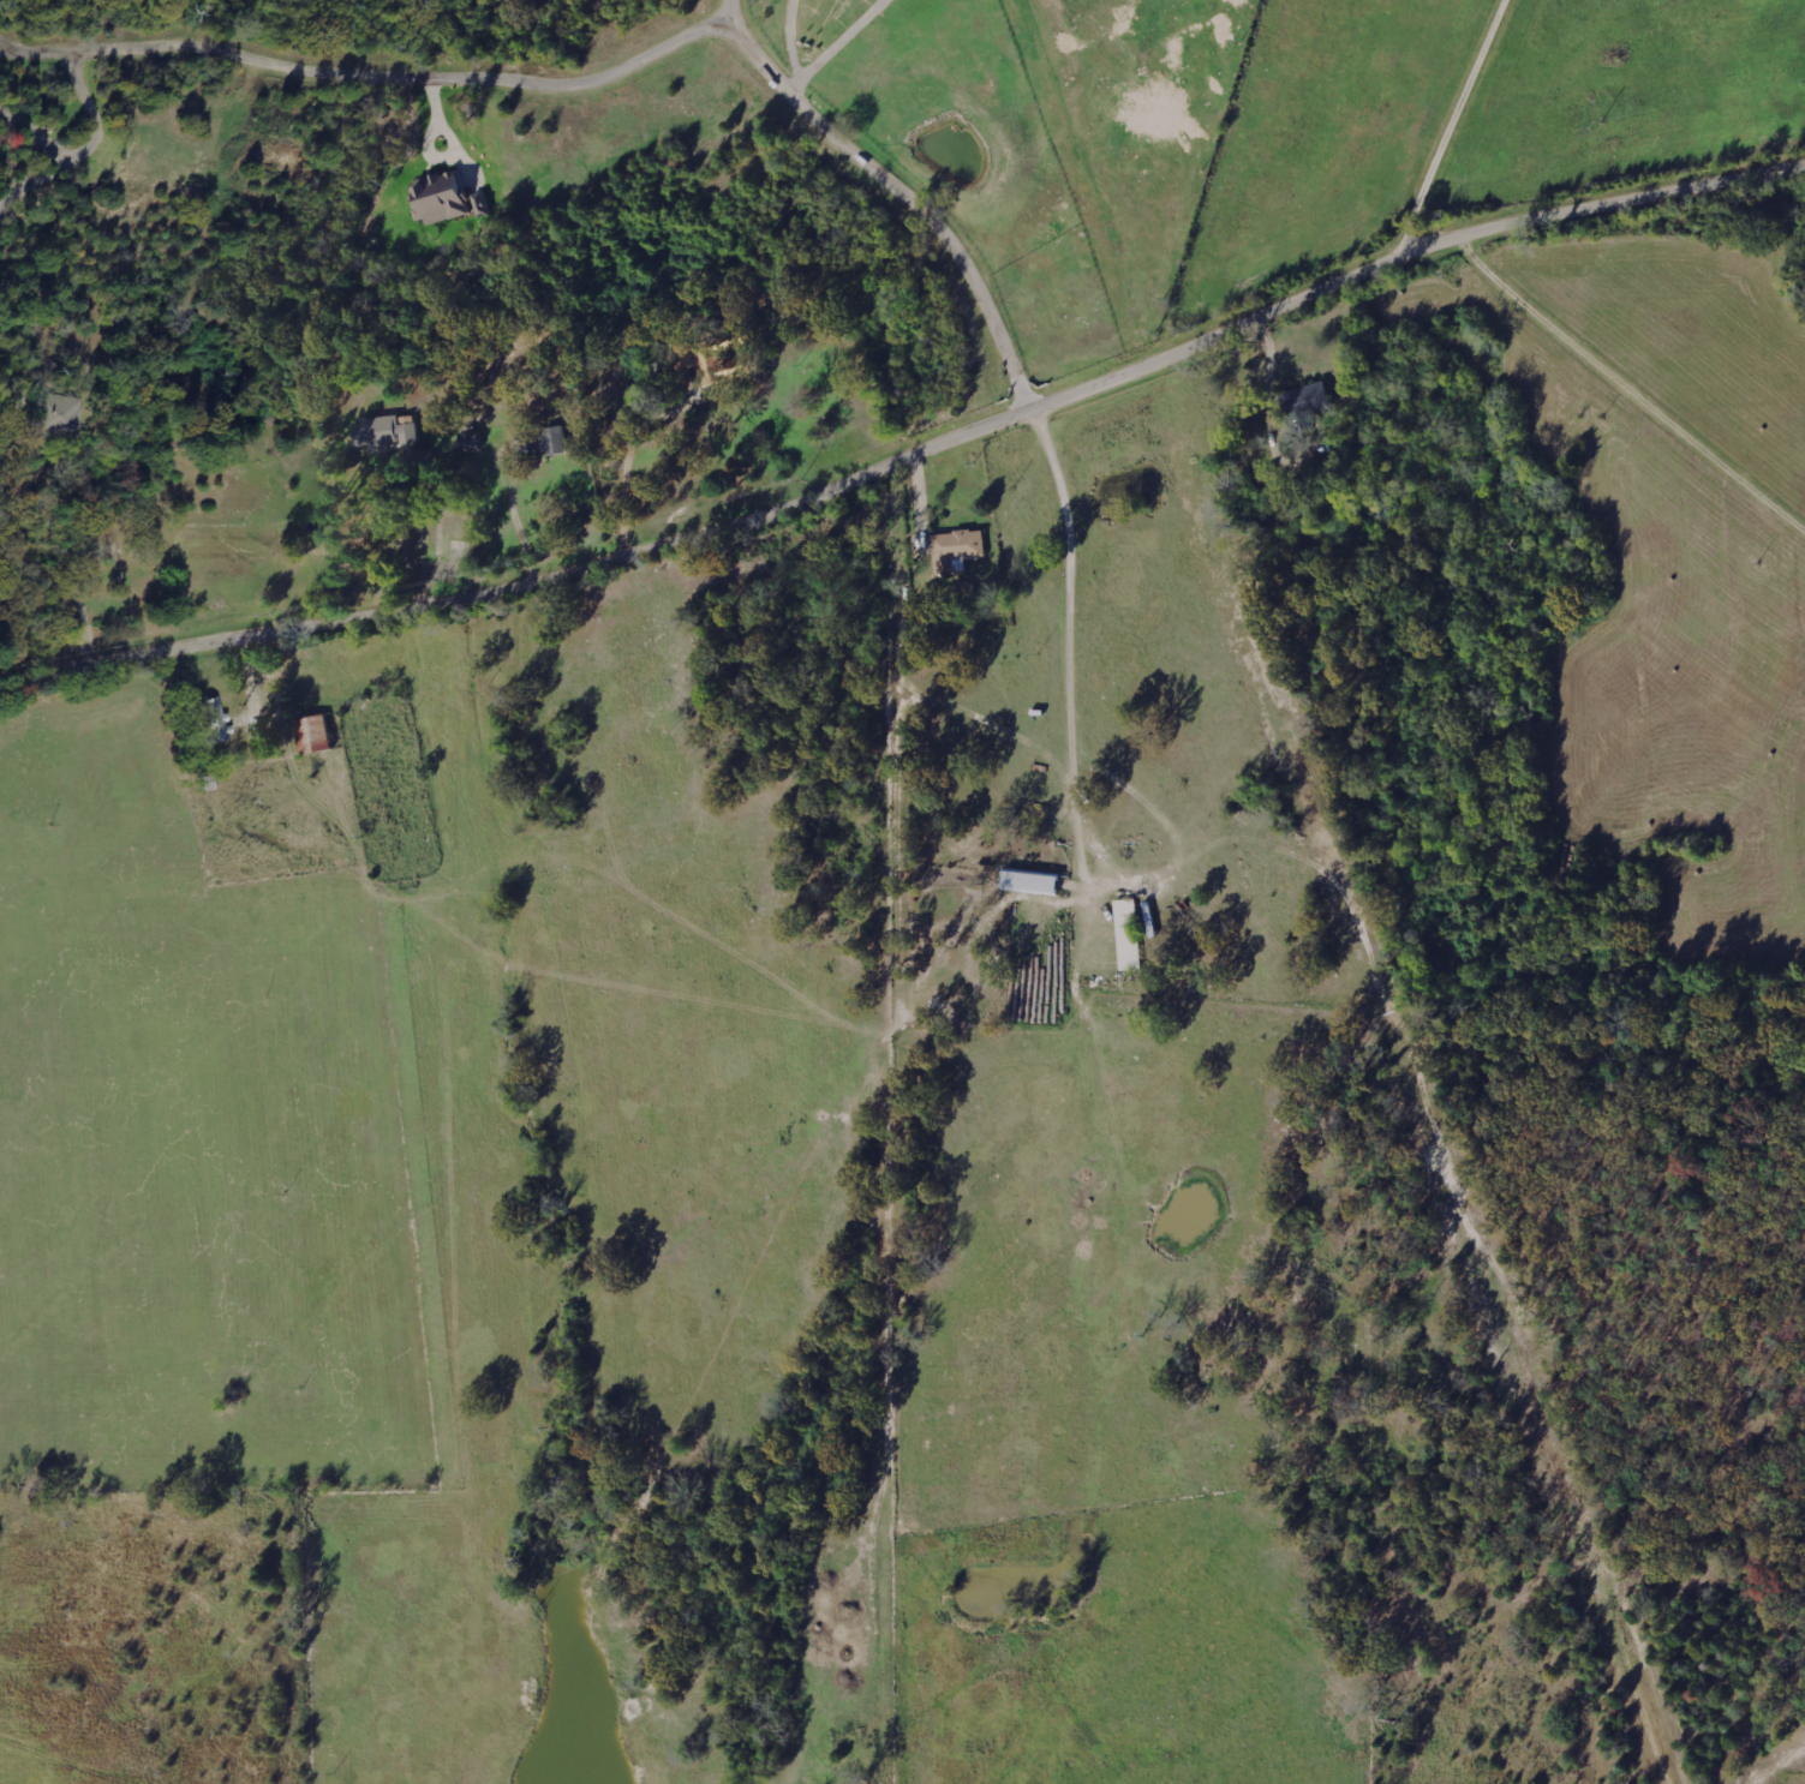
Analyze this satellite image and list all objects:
road: (713, 14)
road: (358, 78)
road: (1435, 124)
road: (901, 197)
building: (442, 198)
road: (1610, 209)
building: (717, 360)
road: (1740, 376)
building: (1309, 397)
building: (66, 415)
building: (383, 432)
building: (467, 441)
building: (545, 442)
road: (11, 516)
road: (725, 532)
building: (957, 545)
road: (1071, 647)
building: (211, 720)
building: (310, 734)
building: (1028, 881)
building: (1134, 930)

